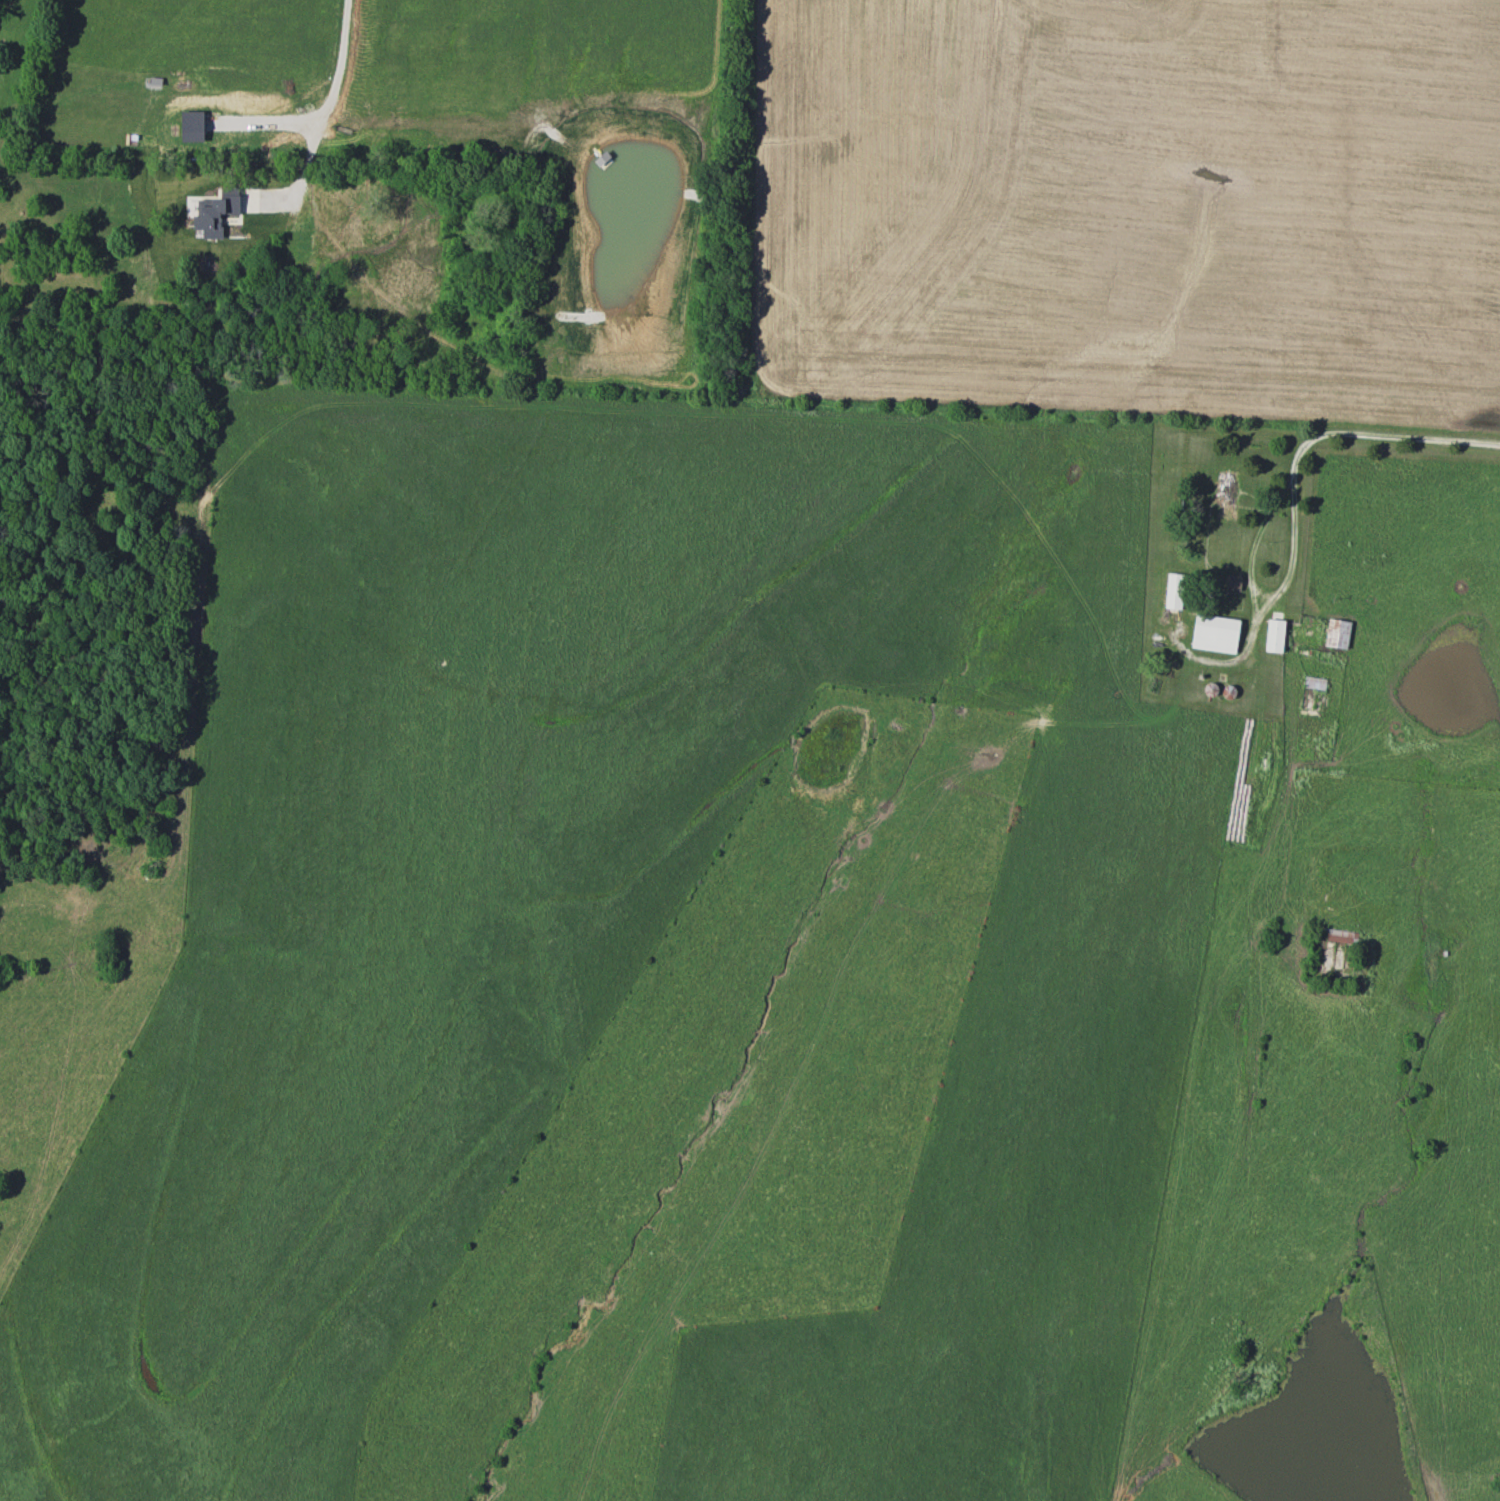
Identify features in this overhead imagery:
road: (337, 74)
building: (192, 126)
building: (217, 212)
road: (1384, 437)
building: (1233, 583)
building: (1174, 591)
road: (1263, 596)
building: (1215, 634)
building: (1337, 634)
building: (1274, 636)
building: (1334, 947)

